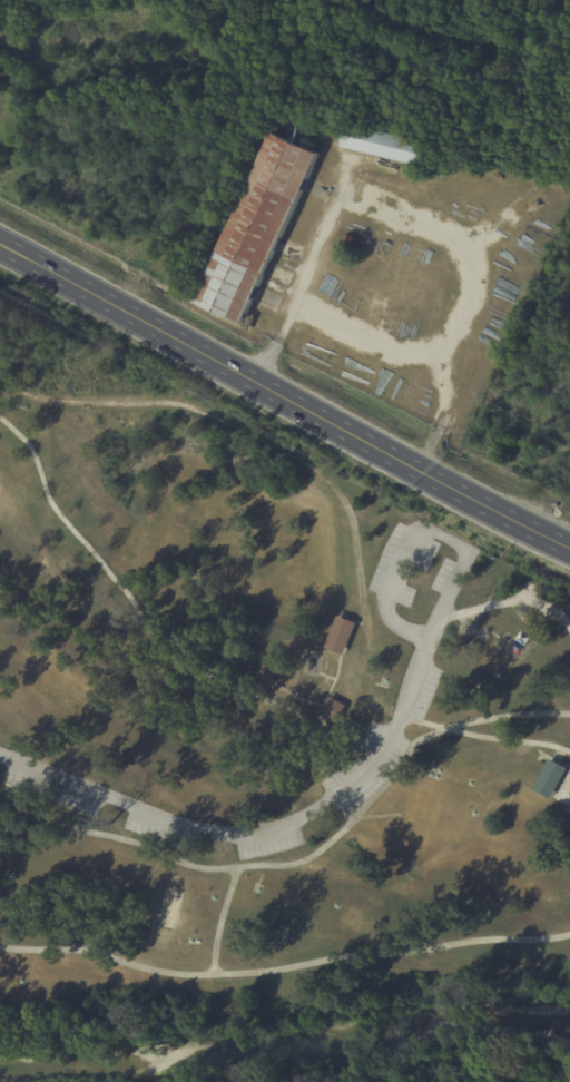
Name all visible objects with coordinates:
building: (386, 145)
airport: (326, 193)
building: (258, 219)
road: (301, 281)
road: (26, 393)
road: (284, 399)
road: (350, 521)
road: (426, 535)
parking lot: (401, 563)
parking lot: (441, 576)
road: (525, 593)
road: (454, 612)
building: (340, 636)
road: (155, 645)
building: (266, 676)
building: (332, 710)
park: (256, 714)
road: (548, 745)
parking lot: (365, 768)
building: (549, 780)
park: (563, 790)
parking lot: (52, 794)
road: (376, 816)
parking lot: (157, 832)
road: (257, 833)
parking lot: (269, 844)
road: (307, 858)
road: (220, 919)
road: (284, 967)
river: (287, 1050)

